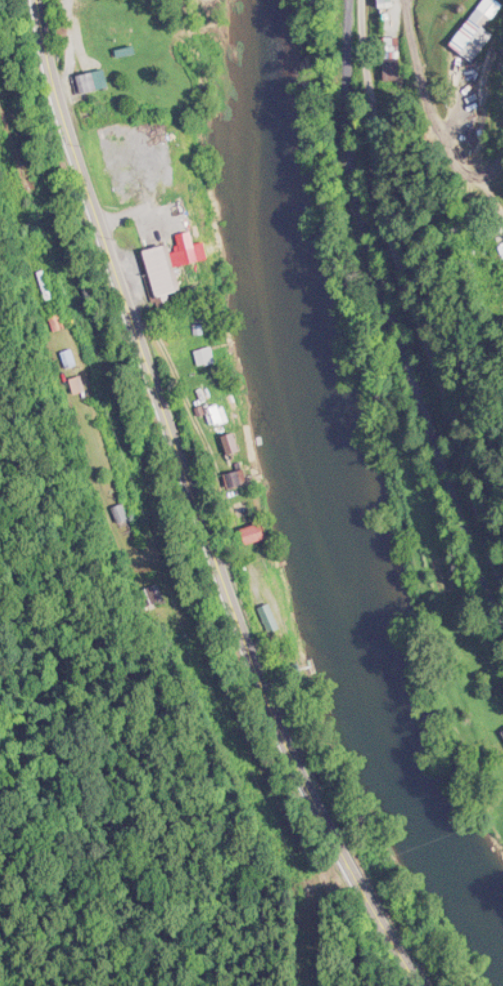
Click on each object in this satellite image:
building: (383, 2)
road: (26, 10)
building: (90, 81)
building: (118, 144)
building: (173, 211)
road: (414, 268)
building: (162, 270)
road: (389, 291)
road: (389, 291)
building: (68, 357)
building: (77, 384)
building: (214, 413)
river: (306, 497)
road: (196, 506)
building: (119, 513)
building: (252, 533)
building: (154, 591)

